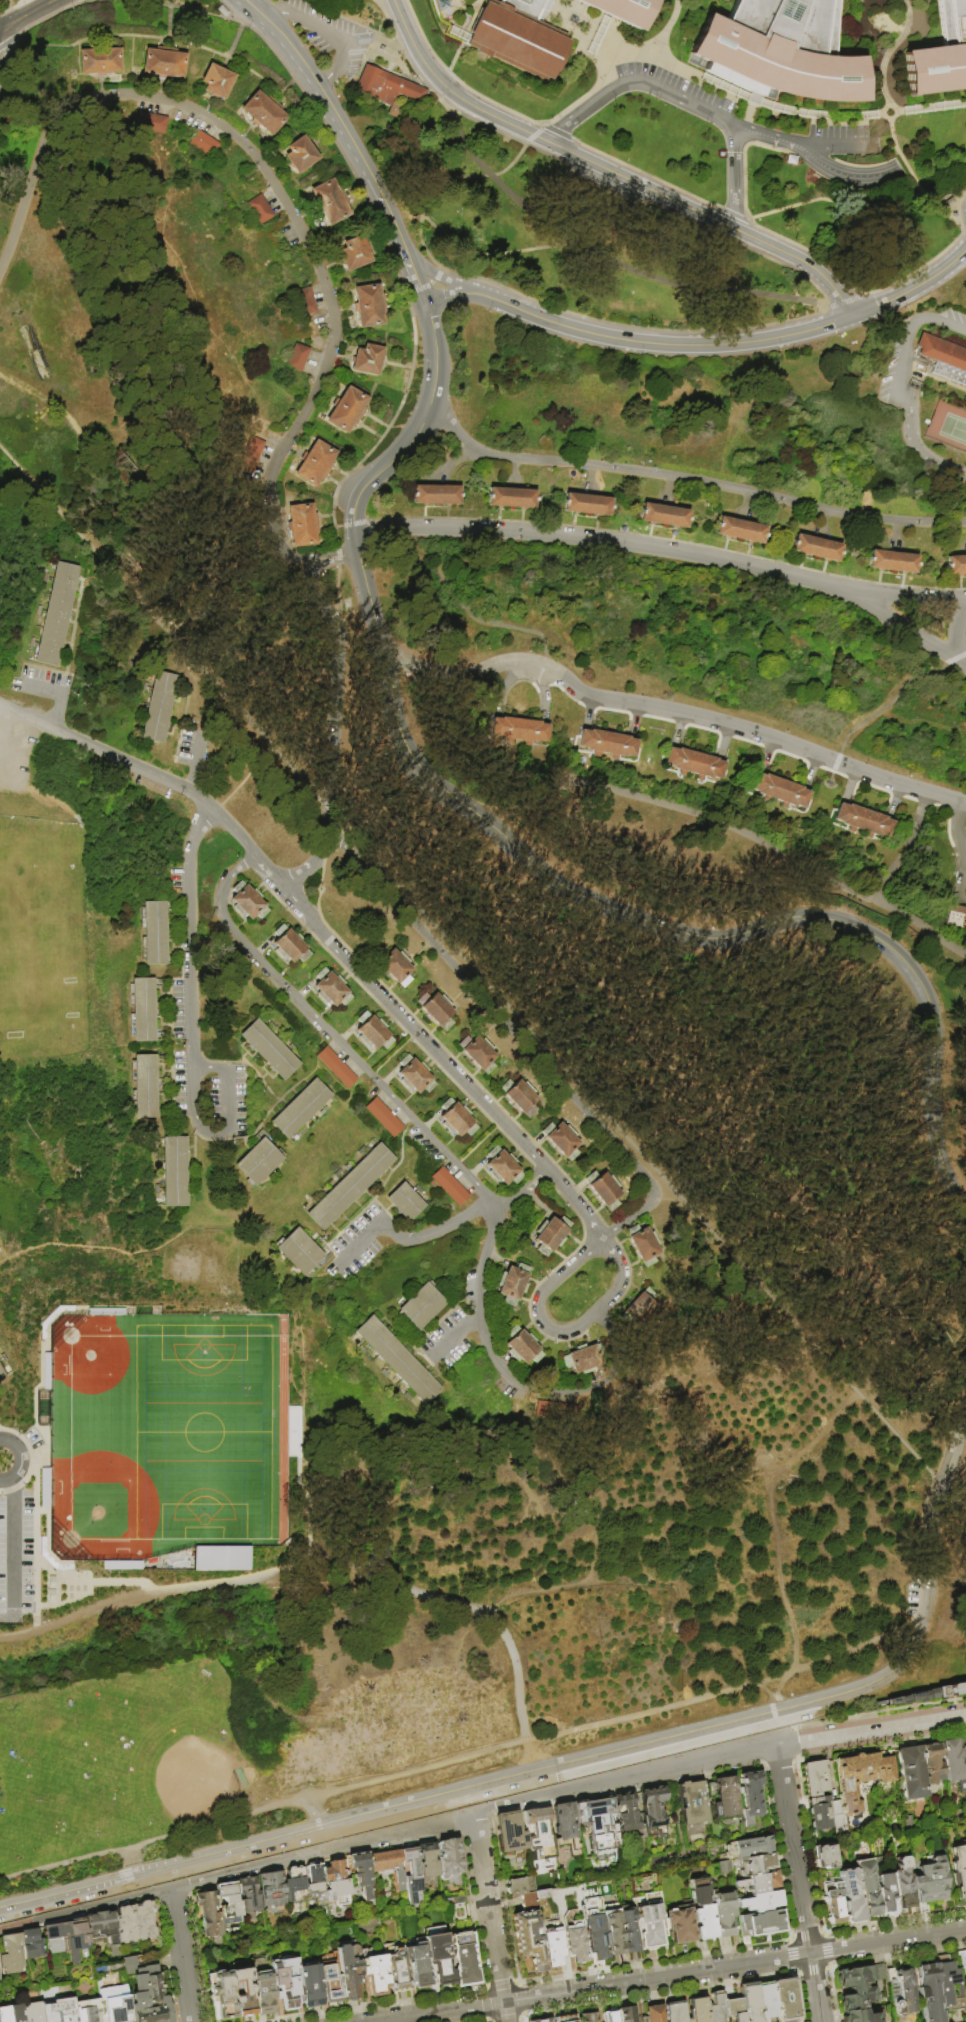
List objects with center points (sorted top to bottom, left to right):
road: (377, 2)
road: (379, 2)
road: (153, 4)
road: (32, 6)
building: (622, 10)
road: (9, 12)
road: (267, 13)
road: (29, 15)
fountain: (571, 18)
road: (320, 29)
road: (669, 29)
building: (520, 37)
road: (184, 43)
building: (781, 51)
road: (890, 51)
building: (941, 55)
building: (100, 61)
road: (406, 61)
building: (164, 63)
road: (329, 79)
road: (454, 79)
building: (218, 82)
road: (606, 82)
parking lot: (673, 83)
building: (388, 87)
road: (608, 87)
road: (590, 90)
road: (613, 90)
road: (675, 97)
road: (753, 99)
road: (930, 107)
building: (264, 113)
road: (884, 113)
road: (747, 114)
road: (577, 115)
road: (333, 117)
building: (150, 122)
road: (541, 123)
road: (556, 132)
road: (533, 133)
road: (763, 135)
building: (204, 144)
road: (463, 144)
road: (836, 147)
building: (301, 155)
road: (810, 156)
road: (510, 163)
road: (608, 171)
road: (733, 177)
road: (865, 177)
road: (912, 177)
road: (280, 198)
road: (826, 200)
building: (332, 202)
building: (261, 210)
road: (541, 223)
road: (422, 247)
building: (355, 254)
road: (435, 274)
road: (413, 277)
road: (817, 289)
road: (911, 289)
road: (448, 297)
building: (306, 301)
building: (369, 306)
road: (659, 345)
building: (296, 357)
building: (943, 358)
building: (368, 360)
road: (903, 384)
road: (53, 402)
building: (348, 410)
building: (256, 424)
park: (947, 427)
building: (251, 455)
building: (316, 464)
road: (688, 480)
building: (435, 494)
building: (510, 497)
building: (586, 505)
building: (663, 515)
building: (303, 526)
building: (740, 530)
road: (604, 543)
building: (816, 547)
road: (338, 557)
building: (892, 561)
building: (956, 564)
road: (909, 596)
building: (57, 614)
road: (904, 626)
road: (956, 636)
road: (111, 652)
road: (961, 661)
parking lot: (43, 681)
road: (45, 687)
building: (145, 687)
road: (60, 708)
building: (160, 709)
road: (671, 712)
road: (18, 718)
road: (338, 727)
building: (520, 731)
parking lot: (192, 743)
building: (608, 744)
road: (198, 751)
parking lot: (21, 760)
building: (694, 765)
road: (24, 767)
road: (154, 774)
road: (194, 779)
building: (780, 791)
road: (962, 802)
building: (865, 822)
road: (960, 824)
road: (738, 833)
road: (909, 849)
road: (427, 866)
road: (542, 871)
road: (964, 892)
building: (248, 902)
park: (472, 902)
building: (173, 905)
building: (957, 918)
building: (155, 934)
building: (173, 934)
road: (191, 936)
building: (290, 946)
park: (42, 948)
building: (174, 961)
building: (395, 966)
road: (482, 979)
building: (161, 983)
building: (332, 989)
building: (143, 1010)
building: (161, 1010)
building: (437, 1010)
parking lot: (181, 1014)
building: (272, 1027)
building: (373, 1033)
road: (516, 1036)
building: (162, 1039)
road: (244, 1045)
building: (294, 1048)
building: (270, 1050)
building: (479, 1054)
building: (162, 1059)
road: (444, 1059)
road: (248, 1060)
road: (217, 1065)
road: (266, 1066)
road: (206, 1067)
building: (337, 1068)
road: (174, 1071)
road: (313, 1071)
building: (415, 1076)
building: (145, 1087)
building: (163, 1087)
parking lot: (181, 1090)
building: (521, 1097)
parking lot: (242, 1101)
building: (301, 1109)
building: (324, 1111)
building: (164, 1115)
road: (711, 1116)
building: (384, 1118)
building: (457, 1120)
road: (261, 1125)
road: (218, 1132)
building: (303, 1133)
building: (562, 1141)
building: (362, 1151)
building: (157, 1156)
building: (260, 1160)
building: (503, 1168)
road: (461, 1171)
building: (176, 1172)
building: (338, 1174)
building: (351, 1187)
building: (451, 1187)
building: (158, 1190)
building: (604, 1190)
building: (419, 1191)
building: (314, 1197)
building: (406, 1202)
road: (465, 1216)
building: (552, 1236)
parking lot: (367, 1242)
road: (359, 1244)
building: (645, 1245)
building: (300, 1253)
road: (622, 1276)
road: (44, 1280)
building: (513, 1285)
road: (538, 1300)
building: (422, 1306)
building: (640, 1310)
road: (475, 1319)
parking lot: (453, 1331)
building: (425, 1332)
building: (417, 1335)
road: (453, 1338)
building: (523, 1347)
building: (362, 1350)
building: (3, 1358)
road: (39, 1360)
building: (398, 1360)
building: (585, 1360)
building: (2, 1374)
building: (385, 1374)
building: (408, 1398)
building: (551, 1411)
park: (165, 1433)
road: (16, 1460)
road: (308, 1509)
road: (33, 1513)
road: (599, 1517)
road: (773, 1535)
road: (12, 1542)
building: (220, 1558)
road: (325, 1569)
road: (90, 1581)
building: (49, 1589)
road: (926, 1601)
building: (957, 1688)
building: (943, 1691)
building: (919, 1695)
building: (892, 1700)
road: (877, 1712)
road: (871, 1731)
road: (793, 1743)
road: (881, 1745)
building: (963, 1750)
park: (98, 1758)
road: (460, 1758)
building: (933, 1763)
building: (954, 1764)
building: (912, 1773)
building: (861, 1778)
building: (815, 1779)
park: (200, 1781)
road: (570, 1789)
building: (751, 1797)
building: (722, 1798)
building: (693, 1803)
road: (390, 1807)
building: (653, 1808)
road: (314, 1812)
building: (626, 1814)
building: (820, 1814)
building: (598, 1823)
building: (567, 1828)
building: (510, 1833)
building: (539, 1835)
building: (748, 1849)
building: (447, 1858)
building: (826, 1858)
building: (385, 1861)
road: (124, 1862)
building: (426, 1863)
building: (756, 1865)
building: (722, 1866)
building: (959, 1871)
building: (361, 1872)
building: (408, 1876)
road: (199, 1881)
building: (759, 1883)
building: (904, 1883)
building: (313, 1884)
building: (334, 1884)
road: (797, 1884)
building: (931, 1884)
building: (294, 1885)
building: (517, 1885)
building: (868, 1888)
building: (271, 1889)
building: (887, 1894)
building: (248, 1896)
building: (851, 1896)
building: (526, 1900)
building: (229, 1902)
building: (761, 1902)
building: (833, 1902)
building: (209, 1913)
building: (457, 1913)
building: (723, 1915)
road: (489, 1917)
building: (649, 1920)
building: (594, 1921)
building: (136, 1923)
building: (704, 1923)
building: (762, 1924)
road: (16, 1925)
building: (680, 1925)
building: (103, 1930)
building: (622, 1932)
building: (575, 1938)
building: (77, 1939)
building: (531, 1939)
building: (32, 1944)
building: (554, 1947)
building: (12, 1954)
road: (181, 1955)
building: (438, 1958)
building: (463, 1960)
building: (417, 1965)
building: (965, 1965)
building: (394, 1968)
building: (347, 1969)
building: (373, 1971)
road: (675, 1975)
building: (0, 1980)
building: (285, 1982)
building: (948, 1982)
building: (307, 1983)
building: (328, 1984)
building: (965, 1984)
building: (137, 1990)
building: (242, 1992)
building: (261, 1992)
building: (860, 1992)
building: (902, 1992)
building: (930, 1993)
building: (221, 1994)
building: (156, 1996)
building: (786, 1999)
building: (750, 2001)
building: (766, 2002)
building: (106, 2006)
building: (717, 2008)
building: (87, 2010)
building: (31, 2011)
building: (57, 2011)
building: (698, 2011)
building: (735, 2011)
building: (14, 2013)
building: (676, 2013)
building: (4, 2014)
building: (655, 2014)
building: (627, 2015)
building: (612, 2016)
building: (590, 2017)
building: (566, 2019)
building: (544, 2020)
building: (761, 2021)

